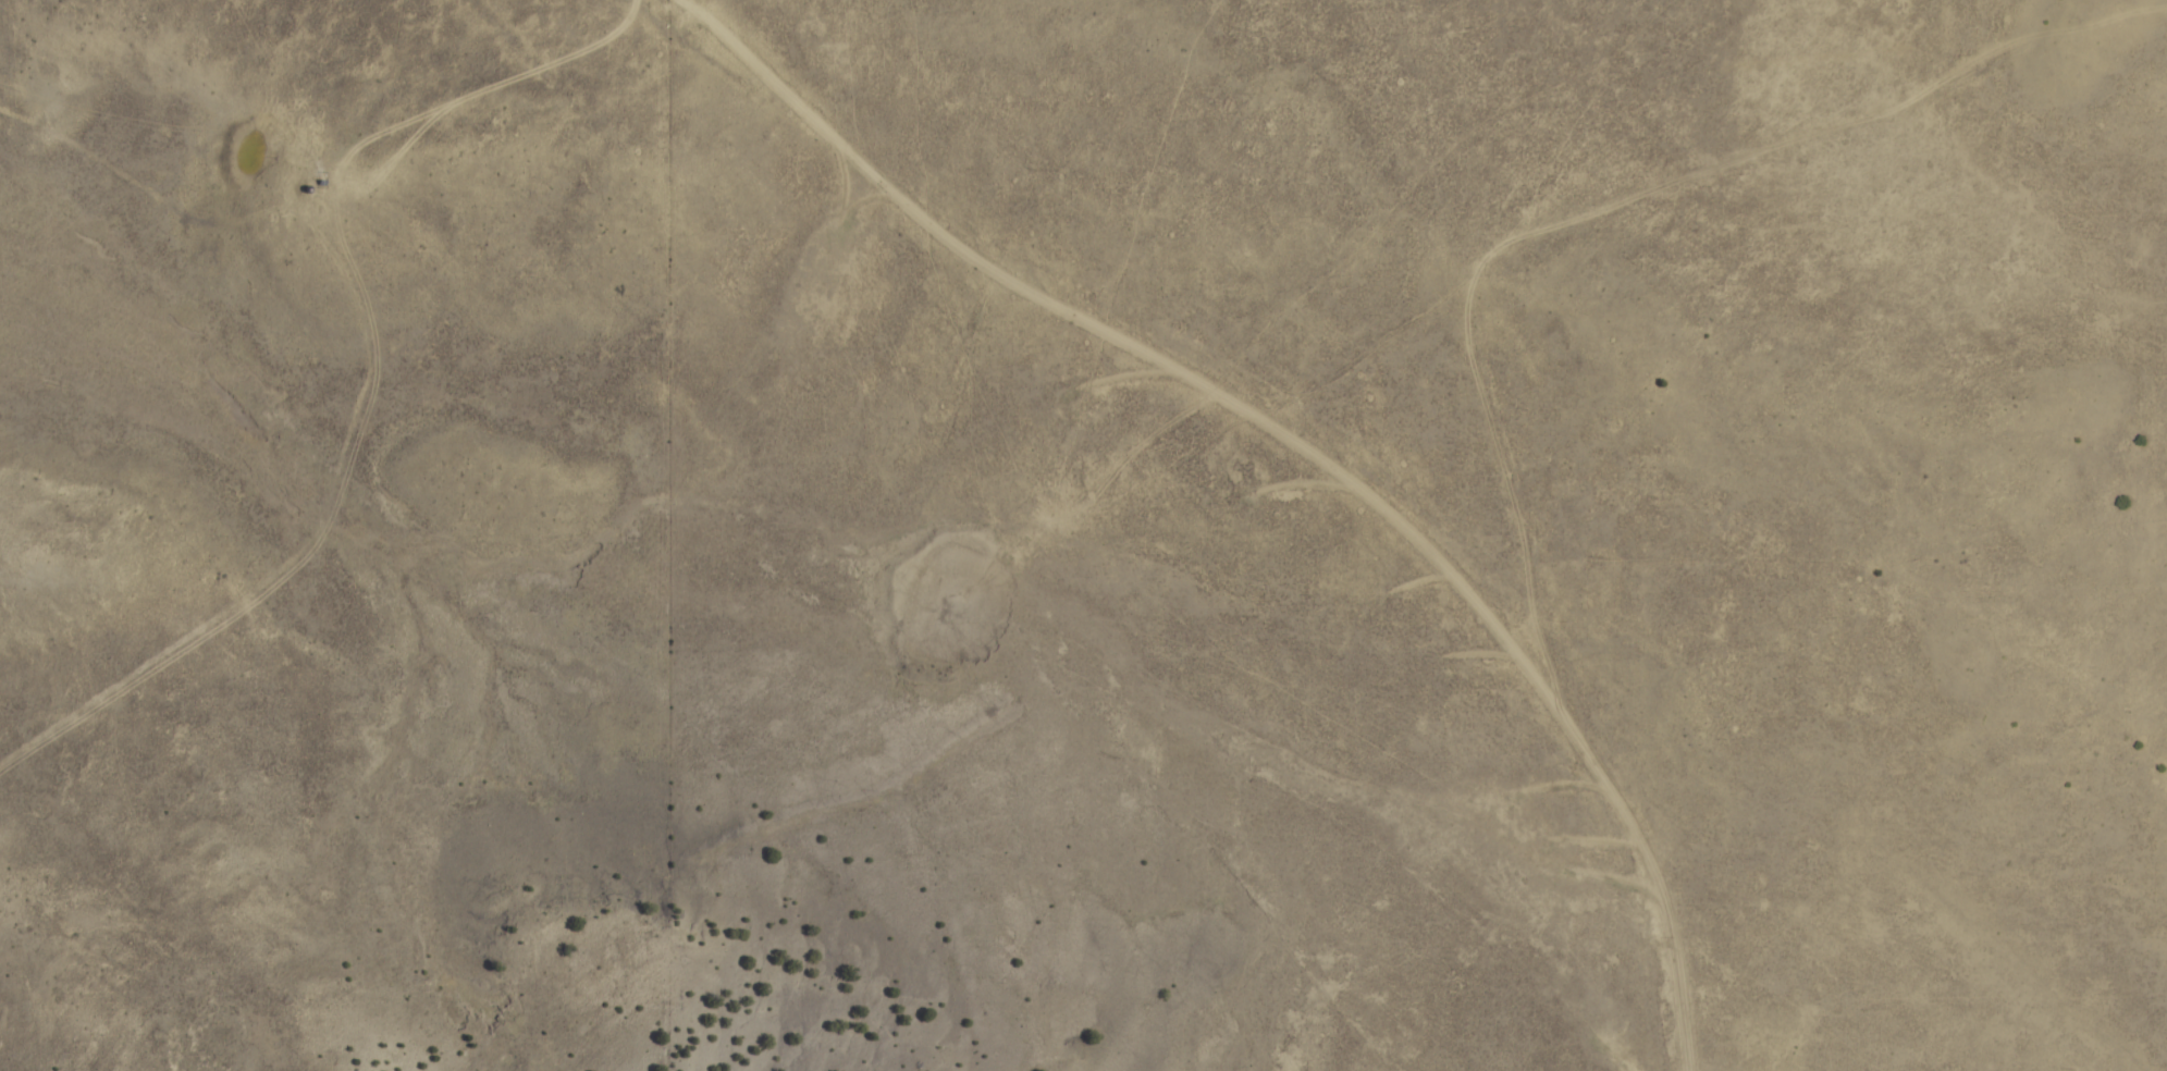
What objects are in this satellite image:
road: (1623, 204)
road: (1232, 495)

